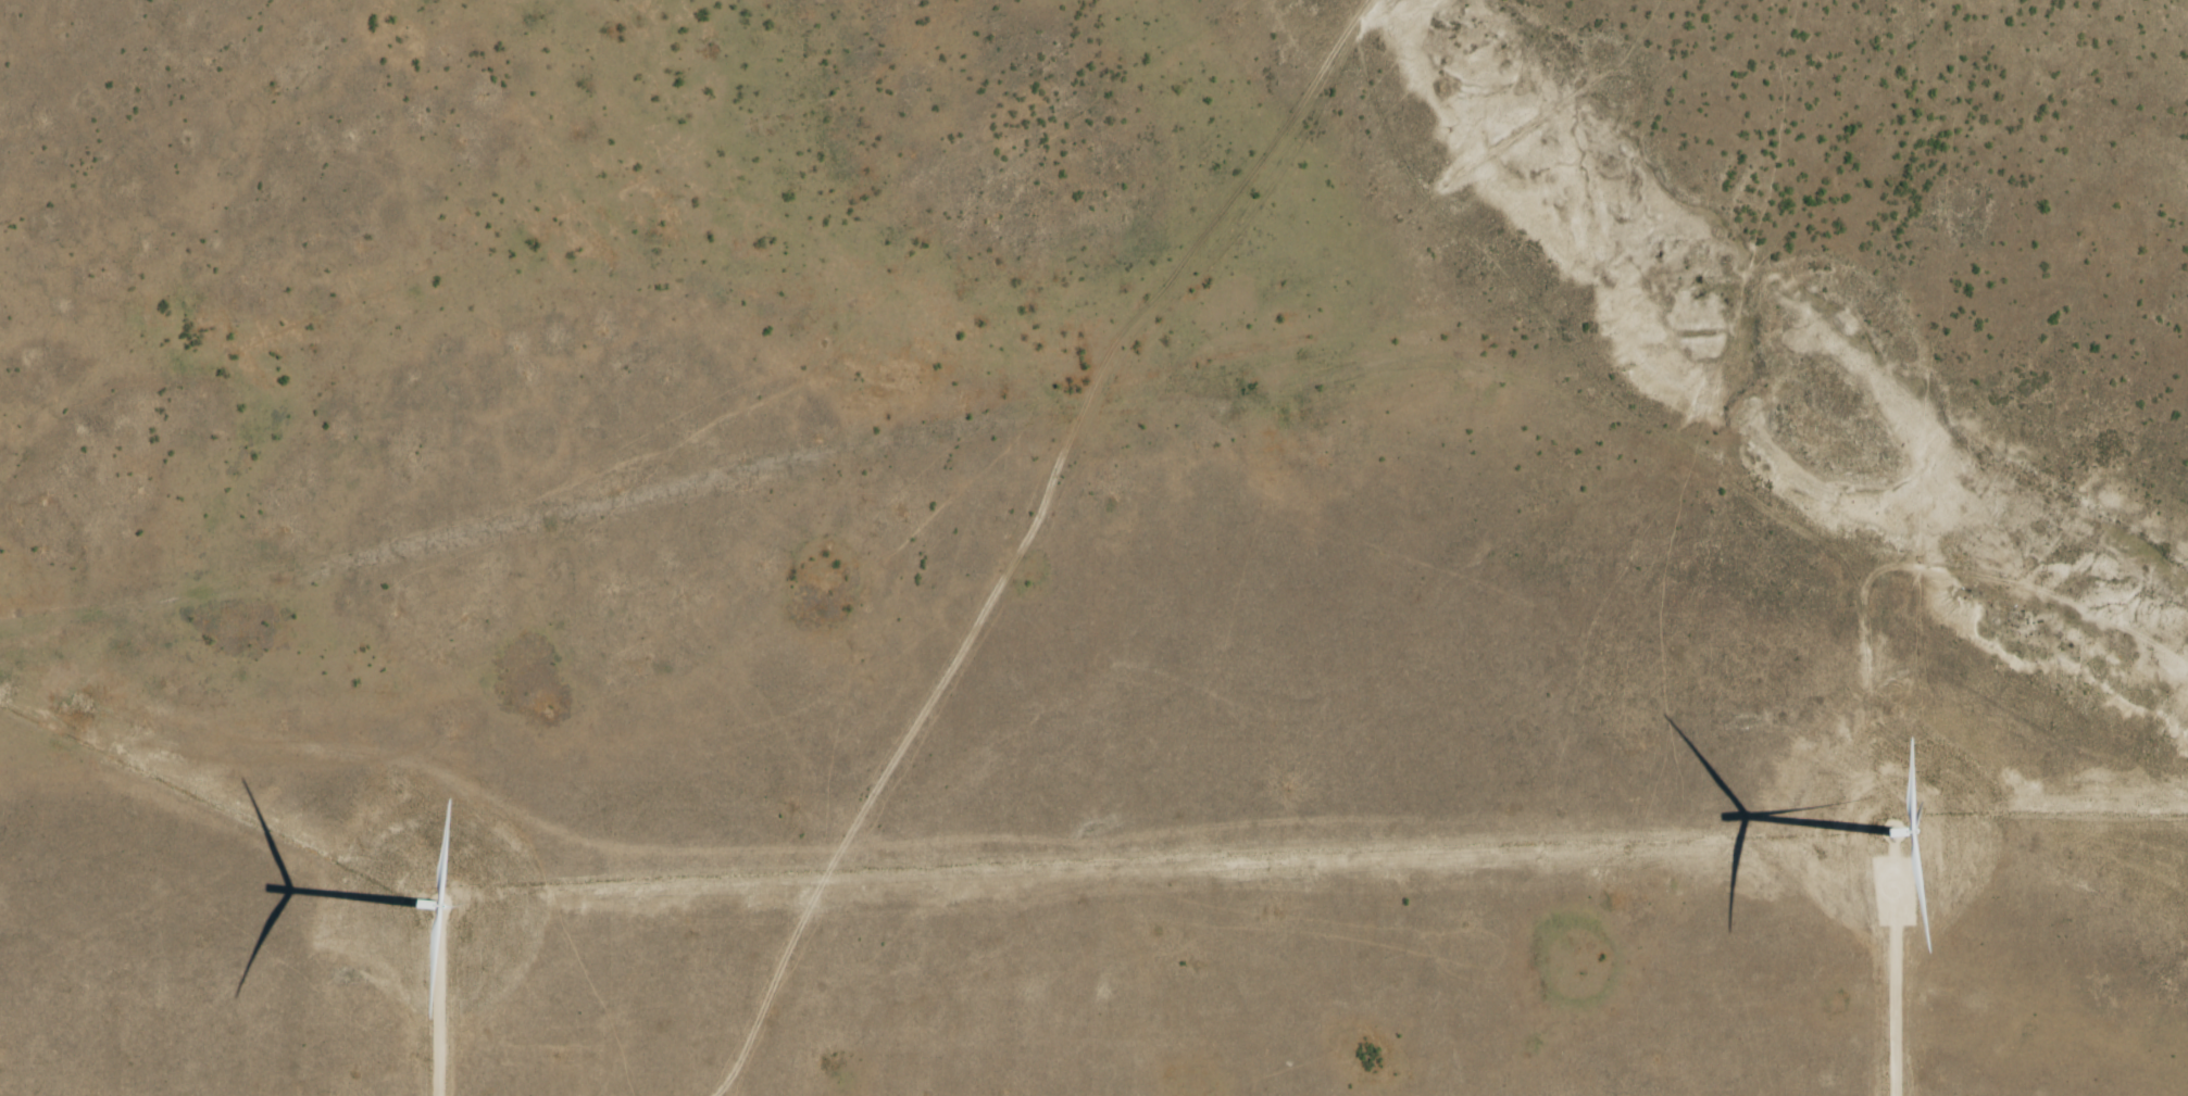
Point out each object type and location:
road: (1795, 477)
wind turbine: (1883, 828)
wind turbine: (422, 892)

